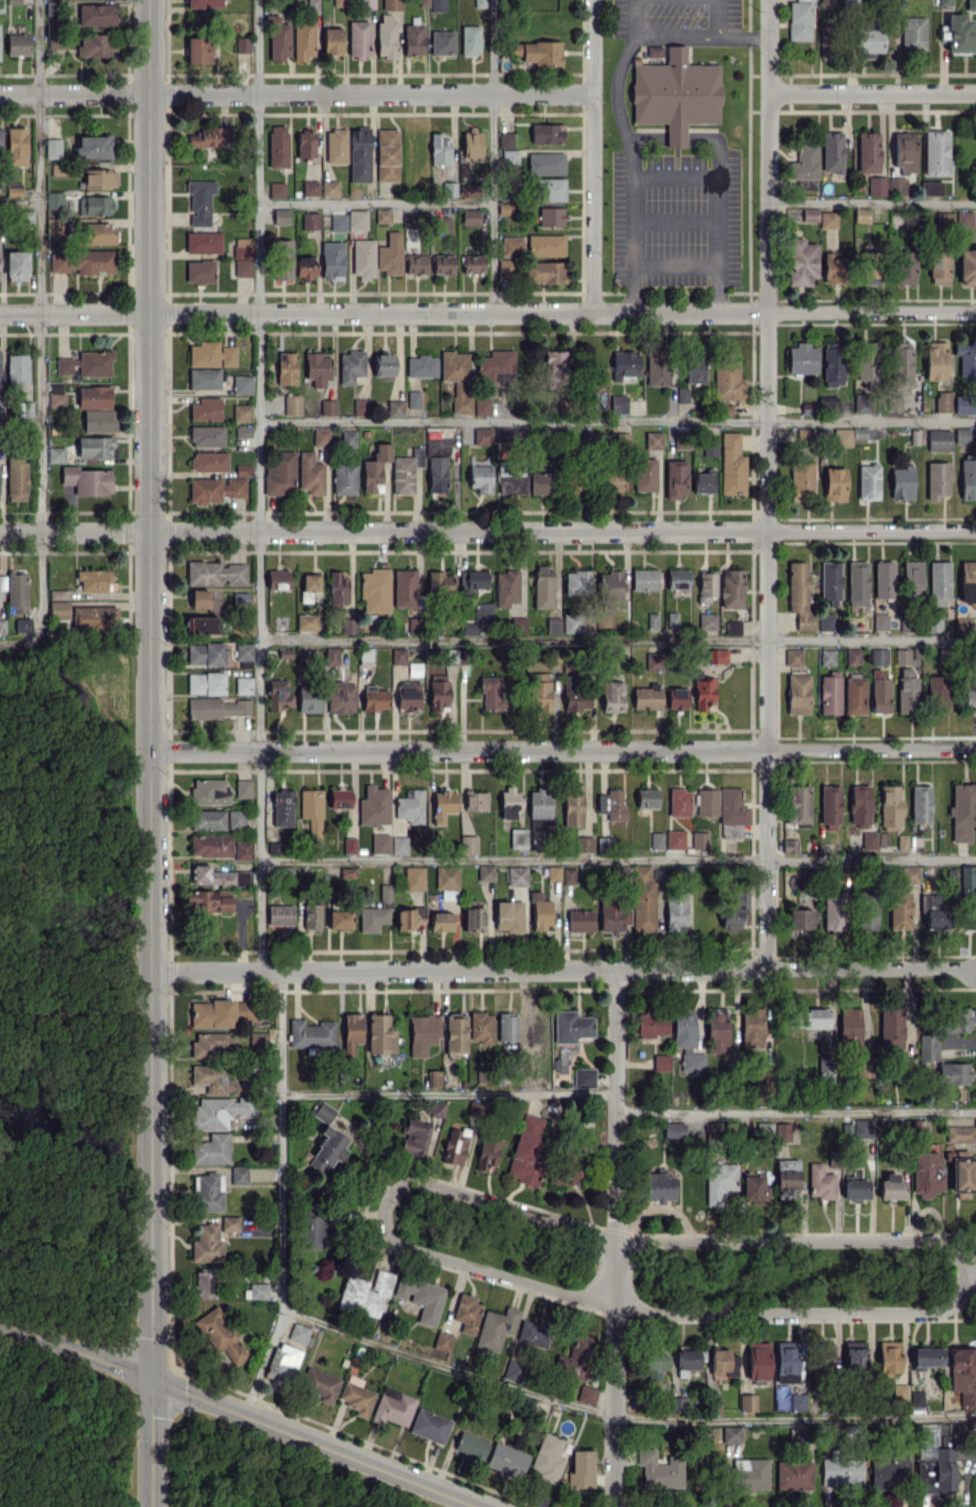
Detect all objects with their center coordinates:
building: (13, 1)
building: (944, 2)
building: (204, 3)
building: (339, 3)
building: (364, 3)
building: (423, 3)
building: (479, 3)
building: (824, 3)
building: (391, 4)
building: (437, 5)
building: (971, 5)
building: (96, 14)
building: (799, 20)
building: (912, 33)
building: (958, 33)
road: (675, 34)
building: (386, 35)
road: (742, 36)
building: (278, 38)
building: (358, 38)
building: (303, 39)
building: (413, 39)
building: (867, 39)
building: (470, 40)
building: (332, 41)
building: (826, 41)
building: (442, 42)
building: (17, 44)
building: (97, 44)
building: (242, 44)
building: (198, 50)
building: (537, 52)
road: (872, 93)
road: (296, 94)
building: (675, 94)
building: (547, 133)
building: (0, 135)
building: (207, 137)
road: (645, 137)
road: (675, 137)
building: (505, 139)
building: (305, 143)
road: (716, 143)
building: (471, 144)
building: (16, 146)
building: (93, 146)
building: (278, 146)
building: (336, 146)
building: (53, 148)
building: (439, 149)
building: (831, 151)
building: (867, 152)
building: (904, 152)
building: (935, 152)
building: (387, 154)
building: (359, 155)
road: (593, 155)
road: (768, 155)
road: (493, 156)
building: (509, 157)
building: (545, 163)
building: (805, 166)
road: (629, 169)
building: (99, 178)
building: (877, 186)
building: (896, 186)
building: (310, 188)
building: (329, 188)
building: (930, 188)
building: (13, 189)
building: (276, 189)
building: (448, 189)
building: (549, 189)
road: (375, 199)
building: (54, 200)
building: (200, 201)
road: (19, 202)
road: (715, 202)
road: (872, 202)
building: (95, 204)
building: (505, 208)
building: (809, 214)
building: (382, 215)
building: (861, 215)
building: (280, 216)
building: (551, 216)
building: (470, 217)
building: (964, 218)
building: (357, 219)
building: (828, 219)
building: (944, 219)
building: (309, 220)
building: (409, 220)
building: (338, 222)
building: (441, 223)
building: (53, 226)
building: (97, 233)
building: (203, 242)
building: (545, 244)
building: (511, 246)
building: (242, 248)
building: (389, 254)
building: (362, 258)
building: (283, 259)
building: (331, 261)
road: (674, 261)
building: (82, 262)
building: (801, 262)
building: (416, 263)
building: (443, 264)
building: (472, 264)
building: (16, 265)
building: (967, 266)
building: (305, 267)
building: (505, 267)
building: (243, 268)
building: (832, 268)
building: (870, 268)
building: (905, 268)
building: (939, 269)
building: (199, 271)
building: (546, 272)
road: (488, 312)
road: (40, 322)
building: (204, 353)
building: (227, 355)
building: (801, 358)
building: (966, 358)
building: (935, 360)
building: (867, 361)
building: (902, 361)
building: (555, 362)
building: (86, 363)
building: (384, 364)
building: (625, 365)
building: (833, 365)
building: (350, 366)
building: (421, 366)
building: (495, 366)
building: (657, 366)
building: (693, 367)
building: (286, 368)
building: (317, 368)
building: (17, 369)
building: (204, 378)
building: (456, 378)
building: (727, 379)
building: (0, 381)
building: (242, 384)
building: (682, 394)
building: (56, 396)
building: (93, 397)
building: (413, 399)
building: (618, 403)
building: (861, 403)
building: (955, 403)
building: (292, 404)
building: (481, 406)
building: (1, 407)
building: (328, 407)
building: (362, 407)
building: (725, 407)
building: (392, 408)
building: (25, 409)
building: (205, 409)
building: (241, 412)
building: (99, 420)
road: (617, 422)
road: (20, 425)
building: (242, 431)
building: (859, 433)
building: (502, 434)
building: (807, 435)
building: (961, 435)
building: (206, 436)
building: (320, 436)
building: (839, 436)
building: (622, 437)
building: (346, 438)
building: (653, 440)
building: (938, 440)
building: (709, 444)
building: (438, 446)
building: (96, 447)
building: (55, 454)
building: (209, 461)
building: (731, 465)
building: (375, 468)
building: (243, 470)
building: (406, 471)
building: (280, 474)
building: (310, 474)
building: (436, 474)
building: (644, 474)
building: (344, 478)
building: (480, 478)
building: (675, 478)
building: (16, 479)
building: (510, 479)
building: (615, 479)
building: (967, 479)
building: (86, 480)
building: (801, 480)
building: (937, 480)
building: (868, 481)
building: (702, 482)
building: (541, 483)
building: (902, 483)
road: (259, 484)
building: (834, 484)
building: (215, 489)
road: (487, 531)
building: (215, 573)
building: (677, 578)
building: (278, 579)
building: (476, 579)
building: (644, 579)
building: (884, 579)
building: (911, 579)
building: (95, 580)
building: (610, 581)
building: (968, 581)
building: (310, 582)
building: (576, 582)
building: (829, 582)
building: (938, 582)
building: (439, 583)
building: (857, 583)
building: (706, 585)
building: (337, 586)
building: (543, 587)
building: (404, 588)
building: (506, 588)
building: (731, 588)
building: (375, 590)
building: (17, 592)
building: (59, 594)
building: (799, 595)
building: (305, 596)
building: (199, 598)
building: (59, 609)
building: (483, 612)
building: (94, 617)
building: (651, 620)
building: (672, 620)
building: (307, 621)
building: (707, 621)
building: (880, 621)
building: (826, 622)
building: (933, 622)
building: (571, 623)
building: (202, 624)
building: (961, 624)
building: (413, 625)
building: (517, 625)
building: (553, 625)
building: (2, 626)
building: (23, 626)
building: (348, 626)
building: (732, 627)
building: (469, 628)
road: (618, 639)
road: (769, 639)
road: (16, 641)
building: (243, 651)
building: (205, 653)
building: (365, 654)
building: (398, 656)
building: (717, 656)
building: (852, 656)
building: (878, 656)
building: (902, 656)
building: (303, 657)
building: (793, 657)
building: (826, 657)
building: (653, 660)
building: (414, 669)
building: (205, 683)
building: (243, 685)
building: (571, 685)
building: (437, 691)
building: (879, 691)
building: (906, 691)
building: (937, 691)
building: (490, 692)
building: (703, 694)
building: (798, 694)
building: (829, 694)
building: (969, 694)
building: (279, 695)
building: (408, 695)
building: (539, 695)
building: (854, 695)
building: (612, 696)
building: (647, 696)
building: (341, 697)
building: (308, 698)
building: (374, 698)
building: (677, 698)
building: (576, 705)
building: (217, 708)
road: (563, 750)
road: (151, 753)
building: (242, 788)
building: (209, 791)
building: (339, 798)
building: (646, 798)
building: (475, 800)
building: (510, 802)
building: (679, 802)
building: (707, 802)
building: (920, 803)
building: (611, 804)
building: (798, 804)
building: (443, 805)
building: (859, 805)
building: (374, 806)
building: (410, 806)
building: (573, 806)
building: (829, 807)
building: (890, 807)
building: (282, 808)
building: (539, 808)
building: (962, 810)
building: (312, 812)
building: (208, 819)
building: (235, 819)
building: (518, 838)
building: (675, 839)
building: (656, 840)
building: (699, 840)
building: (868, 840)
building: (380, 843)
building: (468, 844)
building: (583, 844)
building: (603, 844)
building: (210, 845)
building: (349, 845)
building: (399, 845)
building: (789, 845)
building: (275, 847)
building: (243, 849)
road: (618, 860)
building: (347, 872)
building: (485, 872)
building: (553, 873)
building: (909, 874)
building: (218, 876)
building: (517, 876)
building: (569, 876)
building: (414, 877)
building: (446, 878)
building: (967, 880)
building: (209, 900)
building: (642, 900)
building: (833, 909)
building: (899, 910)
building: (675, 911)
building: (867, 911)
building: (376, 912)
building: (933, 913)
building: (280, 914)
building: (541, 915)
building: (612, 915)
building: (311, 916)
building: (508, 916)
building: (732, 917)
building: (408, 918)
building: (339, 919)
building: (800, 919)
building: (580, 920)
building: (966, 920)
building: (441, 921)
road: (563, 969)
building: (245, 1012)
building: (212, 1013)
building: (812, 1017)
building: (957, 1019)
building: (651, 1023)
building: (849, 1025)
building: (507, 1026)
building: (571, 1026)
building: (481, 1027)
building: (752, 1027)
building: (890, 1027)
building: (352, 1028)
building: (716, 1030)
building: (455, 1032)
building: (311, 1033)
building: (423, 1033)
building: (533, 1033)
building: (380, 1035)
building: (258, 1040)
building: (687, 1041)
building: (213, 1044)
building: (661, 1064)
building: (825, 1069)
building: (953, 1073)
building: (584, 1077)
building: (216, 1080)
building: (535, 1080)
road: (449, 1096)
building: (437, 1108)
building: (475, 1108)
road: (796, 1109)
building: (221, 1111)
building: (321, 1111)
building: (858, 1128)
building: (674, 1130)
building: (959, 1134)
building: (414, 1137)
road: (281, 1140)
building: (455, 1146)
building: (211, 1149)
building: (327, 1150)
building: (526, 1150)
building: (487, 1153)
building: (927, 1170)
building: (566, 1171)
building: (239, 1174)
building: (787, 1174)
building: (960, 1176)
building: (719, 1182)
building: (820, 1182)
building: (891, 1186)
building: (659, 1187)
building: (855, 1187)
building: (753, 1188)
building: (209, 1192)
road: (499, 1201)
building: (230, 1223)
building: (313, 1231)
road: (802, 1237)
road: (617, 1238)
building: (207, 1243)
road: (484, 1270)
building: (204, 1283)
building: (257, 1290)
building: (365, 1293)
building: (421, 1298)
road: (801, 1310)
building: (466, 1313)
building: (495, 1328)
building: (534, 1333)
building: (300, 1334)
building: (220, 1335)
building: (442, 1340)
building: (854, 1354)
building: (579, 1356)
building: (888, 1356)
building: (689, 1358)
building: (823, 1358)
building: (925, 1358)
building: (757, 1360)
road: (262, 1361)
building: (786, 1362)
building: (283, 1363)
building: (654, 1364)
building: (723, 1364)
road: (448, 1370)
building: (512, 1371)
building: (963, 1373)
traffic signals: (153, 1378)
building: (321, 1384)
building: (587, 1394)
building: (899, 1394)
building: (356, 1395)
building: (797, 1401)
building: (747, 1402)
building: (677, 1404)
building: (393, 1407)
road: (240, 1411)
road: (796, 1416)
building: (429, 1426)
building: (731, 1433)
building: (949, 1433)
building: (471, 1446)
building: (547, 1458)
building: (506, 1459)
building: (582, 1468)
building: (660, 1469)
building: (889, 1470)
building: (841, 1472)
building: (941, 1472)
building: (751, 1474)
building: (793, 1475)

